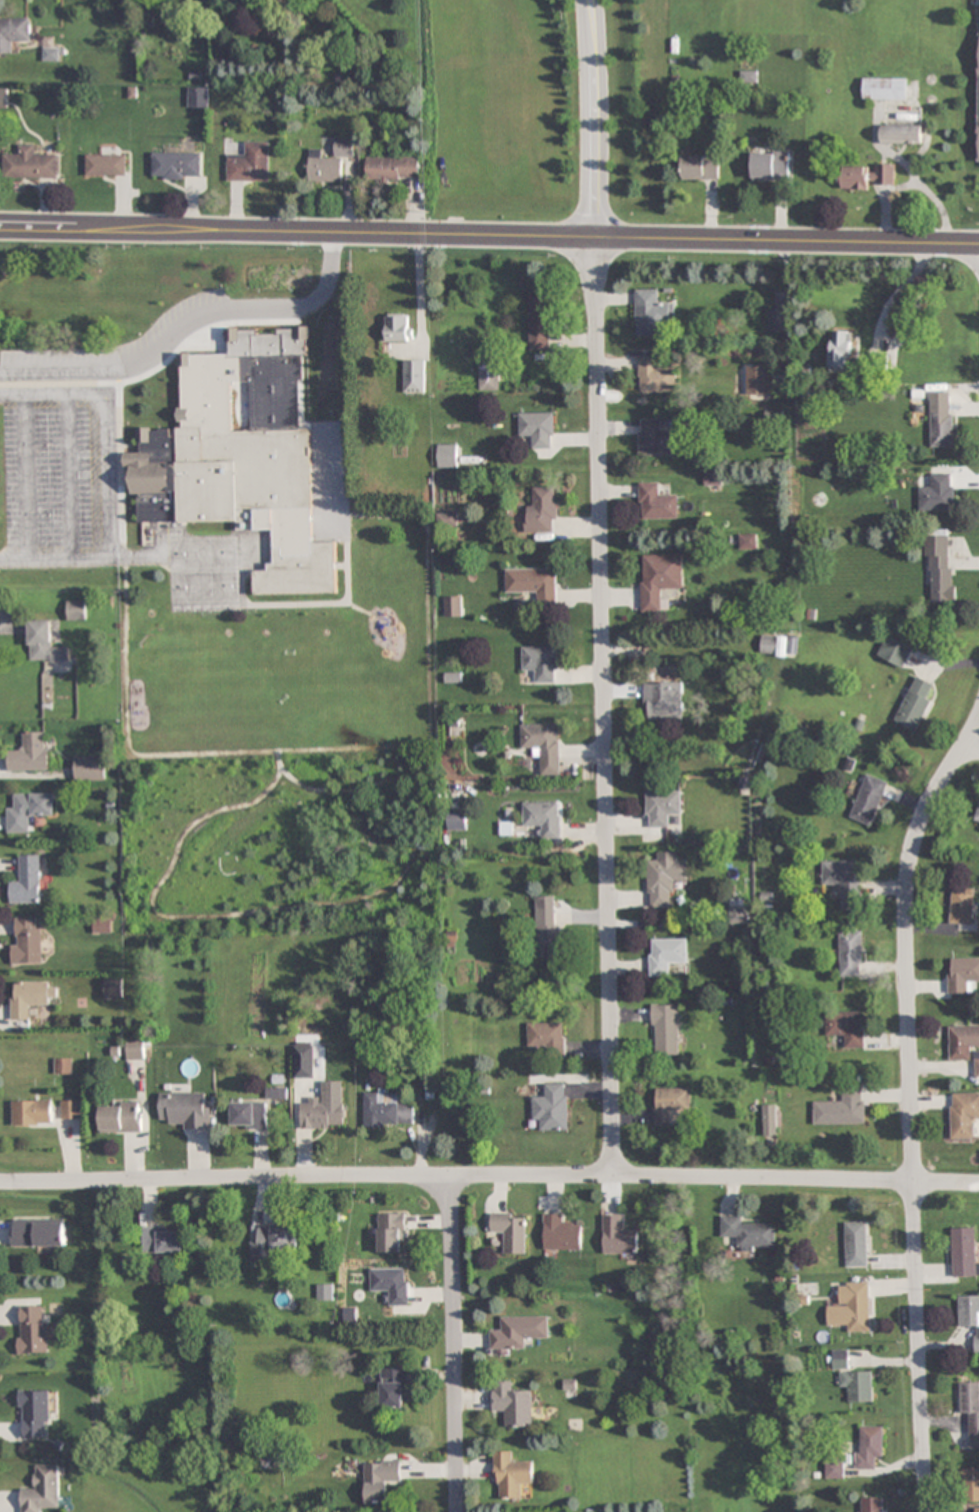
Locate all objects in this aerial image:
building: (13, 33)
building: (748, 77)
building: (884, 88)
building: (198, 97)
crop: (501, 110)
road: (591, 118)
building: (900, 134)
building: (978, 146)
building: (30, 164)
building: (251, 164)
building: (330, 164)
building: (106, 165)
building: (771, 165)
building: (177, 166)
building: (700, 167)
building: (393, 168)
building: (867, 176)
road: (489, 235)
building: (652, 314)
building: (539, 320)
building: (778, 320)
building: (396, 331)
building: (841, 350)
building: (655, 376)
building: (414, 377)
building: (493, 377)
building: (941, 418)
building: (537, 429)
building: (655, 438)
building: (447, 456)
building: (249, 468)
building: (938, 493)
building: (656, 503)
building: (541, 512)
building: (748, 541)
building: (940, 571)
building: (660, 581)
building: (534, 583)
building: (453, 606)
building: (76, 609)
building: (44, 644)
building: (774, 645)
building: (895, 651)
building: (542, 663)
building: (664, 701)
building: (916, 703)
road: (603, 706)
road: (973, 744)
building: (544, 746)
road: (334, 748)
building: (30, 753)
building: (90, 768)
building: (869, 799)
building: (662, 808)
building: (28, 810)
building: (977, 814)
building: (543, 819)
building: (456, 821)
building: (664, 879)
building: (844, 880)
building: (27, 882)
building: (962, 906)
road: (287, 907)
building: (547, 934)
building: (27, 941)
building: (851, 953)
building: (666, 955)
building: (963, 975)
building: (113, 989)
building: (31, 997)
building: (846, 1027)
building: (665, 1030)
building: (545, 1036)
building: (962, 1041)
building: (136, 1049)
building: (976, 1063)
building: (64, 1067)
building: (671, 1106)
road: (909, 1106)
building: (551, 1108)
building: (842, 1109)
building: (72, 1110)
building: (187, 1110)
building: (387, 1112)
building: (33, 1113)
building: (250, 1115)
building: (964, 1115)
building: (323, 1116)
building: (120, 1118)
building: (770, 1120)
road: (489, 1176)
building: (511, 1231)
building: (39, 1233)
building: (392, 1233)
building: (560, 1233)
building: (749, 1233)
building: (618, 1236)
building: (164, 1240)
building: (274, 1244)
building: (857, 1244)
building: (964, 1253)
building: (391, 1284)
building: (325, 1292)
building: (852, 1307)
building: (970, 1316)
building: (33, 1330)
building: (517, 1333)
road: (452, 1344)
building: (841, 1359)
building: (858, 1385)
building: (393, 1388)
building: (512, 1405)
building: (971, 1410)
building: (34, 1414)
building: (868, 1446)
building: (835, 1469)
building: (510, 1476)
building: (379, 1481)
building: (970, 1485)
building: (41, 1489)
building: (872, 1504)
building: (976, 1509)

